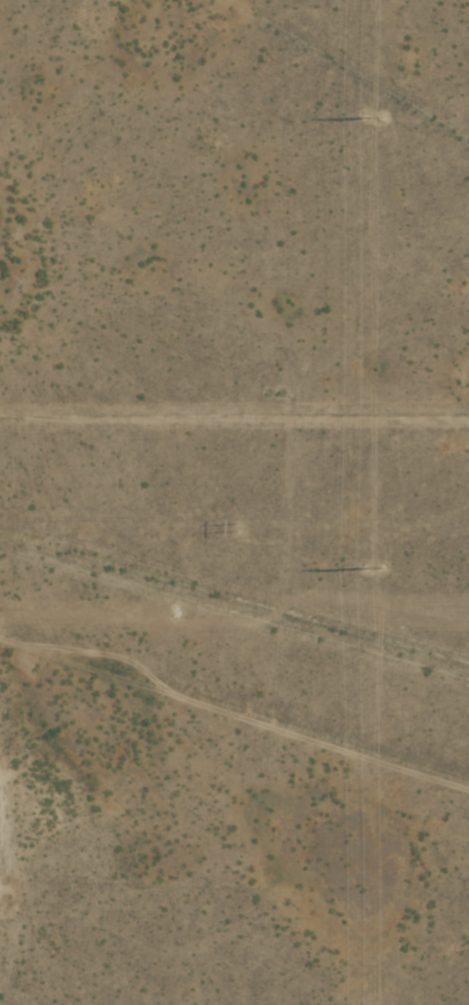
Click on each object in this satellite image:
power tower: (374, 117)
power tower: (241, 527)
power tower: (371, 568)
power tower: (177, 615)

